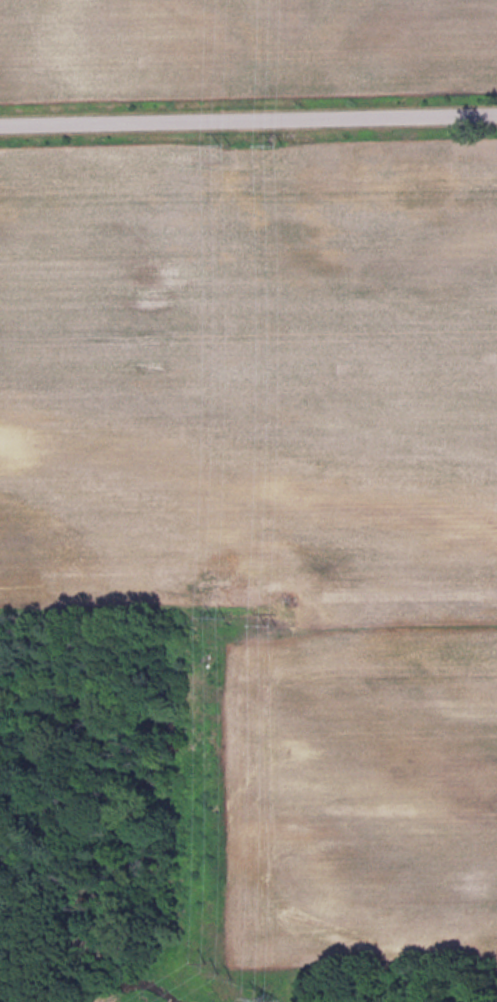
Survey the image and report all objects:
road: (248, 126)
power tower: (273, 141)
power tower: (220, 143)
power tower: (215, 618)
power tower: (270, 619)
power tower: (226, 971)
power tower: (275, 999)

